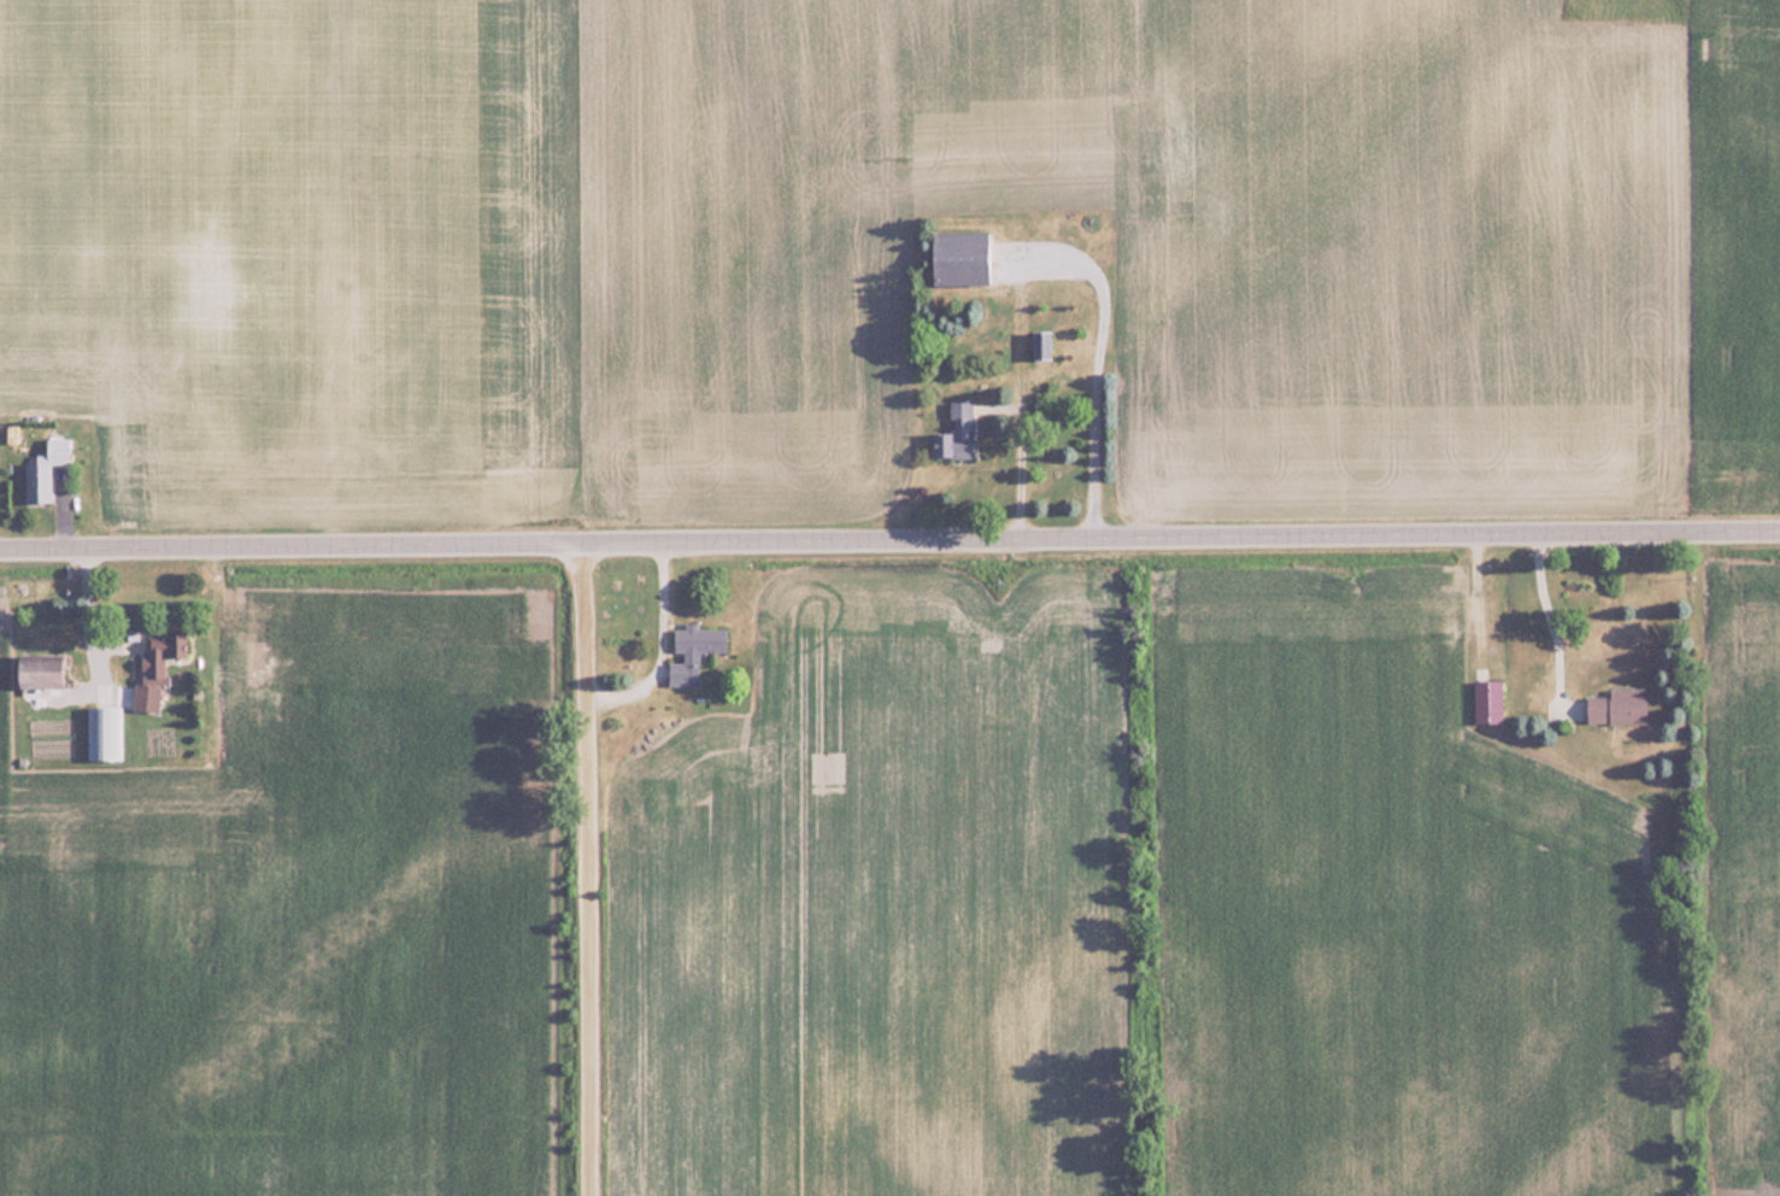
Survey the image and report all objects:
road: (1051, 248)
building: (962, 257)
building: (1042, 342)
building: (957, 430)
building: (46, 468)
road: (889, 537)
road: (1543, 612)
road: (94, 640)
building: (1528, 646)
building: (693, 650)
building: (165, 652)
building: (43, 670)
building: (146, 696)
building: (1488, 699)
building: (1619, 705)
building: (104, 732)
road: (586, 870)

